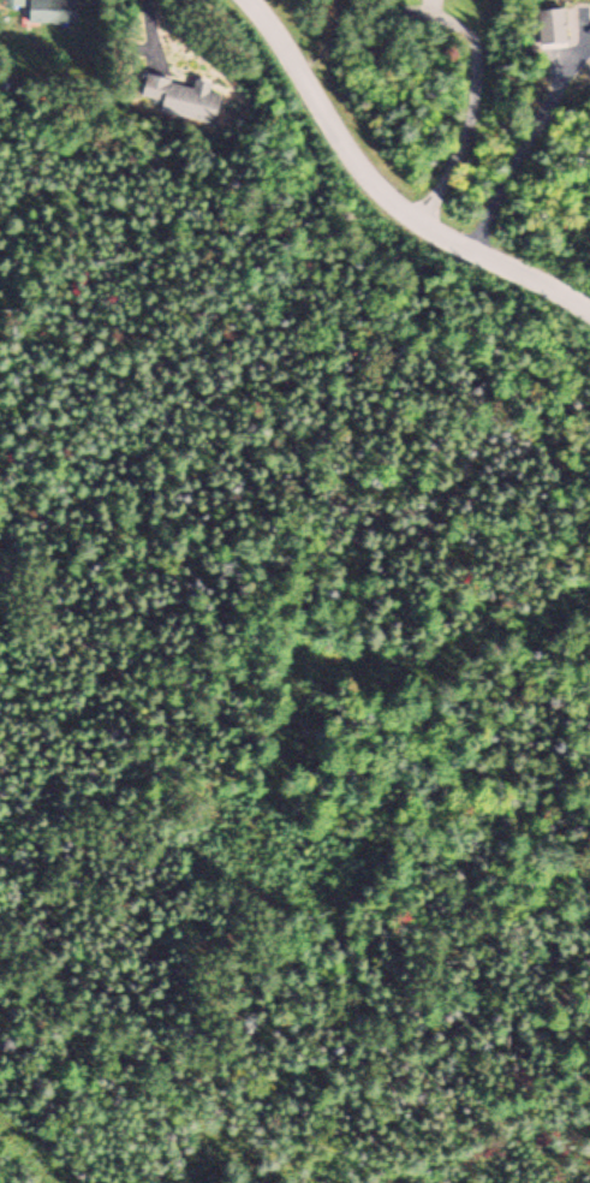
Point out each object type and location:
building: (12, 1)
building: (53, 10)
building: (552, 23)
building: (180, 95)
road: (388, 190)

